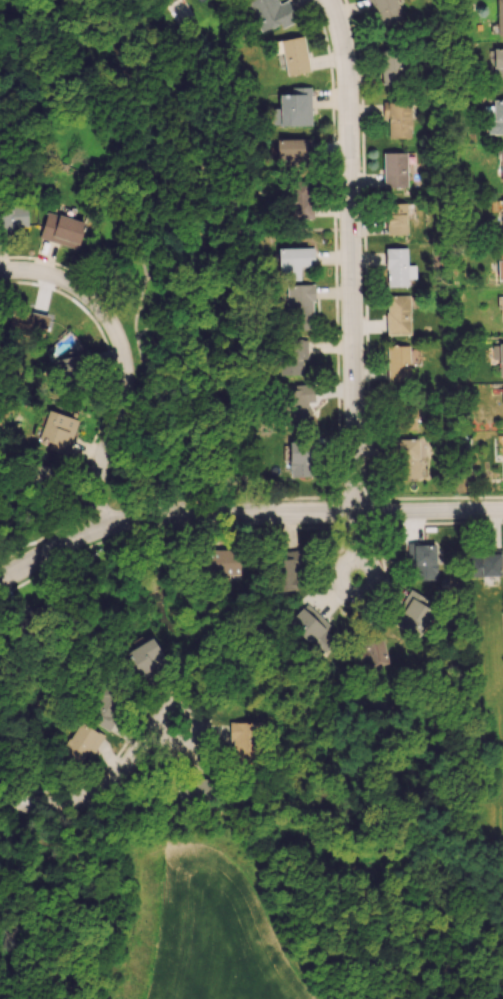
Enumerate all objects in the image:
building: (385, 11)
building: (271, 13)
building: (499, 16)
road: (56, 19)
building: (292, 54)
building: (497, 64)
building: (391, 66)
road: (157, 77)
road: (64, 78)
building: (293, 108)
road: (332, 114)
building: (494, 117)
building: (398, 118)
road: (41, 135)
building: (292, 150)
building: (501, 164)
building: (395, 169)
road: (188, 179)
road: (209, 183)
road: (121, 189)
building: (298, 201)
road: (184, 202)
building: (502, 215)
building: (13, 216)
building: (396, 218)
road: (232, 219)
road: (140, 225)
building: (61, 229)
road: (292, 230)
road: (132, 232)
road: (350, 256)
building: (293, 261)
building: (499, 263)
building: (398, 267)
road: (191, 281)
road: (142, 291)
building: (301, 306)
road: (148, 312)
building: (397, 314)
road: (135, 322)
building: (27, 323)
road: (145, 329)
building: (298, 347)
building: (498, 355)
road: (127, 361)
building: (397, 363)
building: (68, 368)
road: (242, 375)
building: (300, 404)
building: (58, 430)
road: (131, 455)
building: (300, 456)
building: (409, 459)
road: (206, 508)
road: (429, 512)
road: (171, 516)
road: (357, 554)
building: (422, 560)
building: (222, 563)
building: (483, 564)
building: (284, 574)
building: (412, 613)
building: (312, 628)
building: (370, 653)
building: (146, 660)
building: (104, 709)
building: (80, 741)
building: (243, 741)
road: (100, 789)

